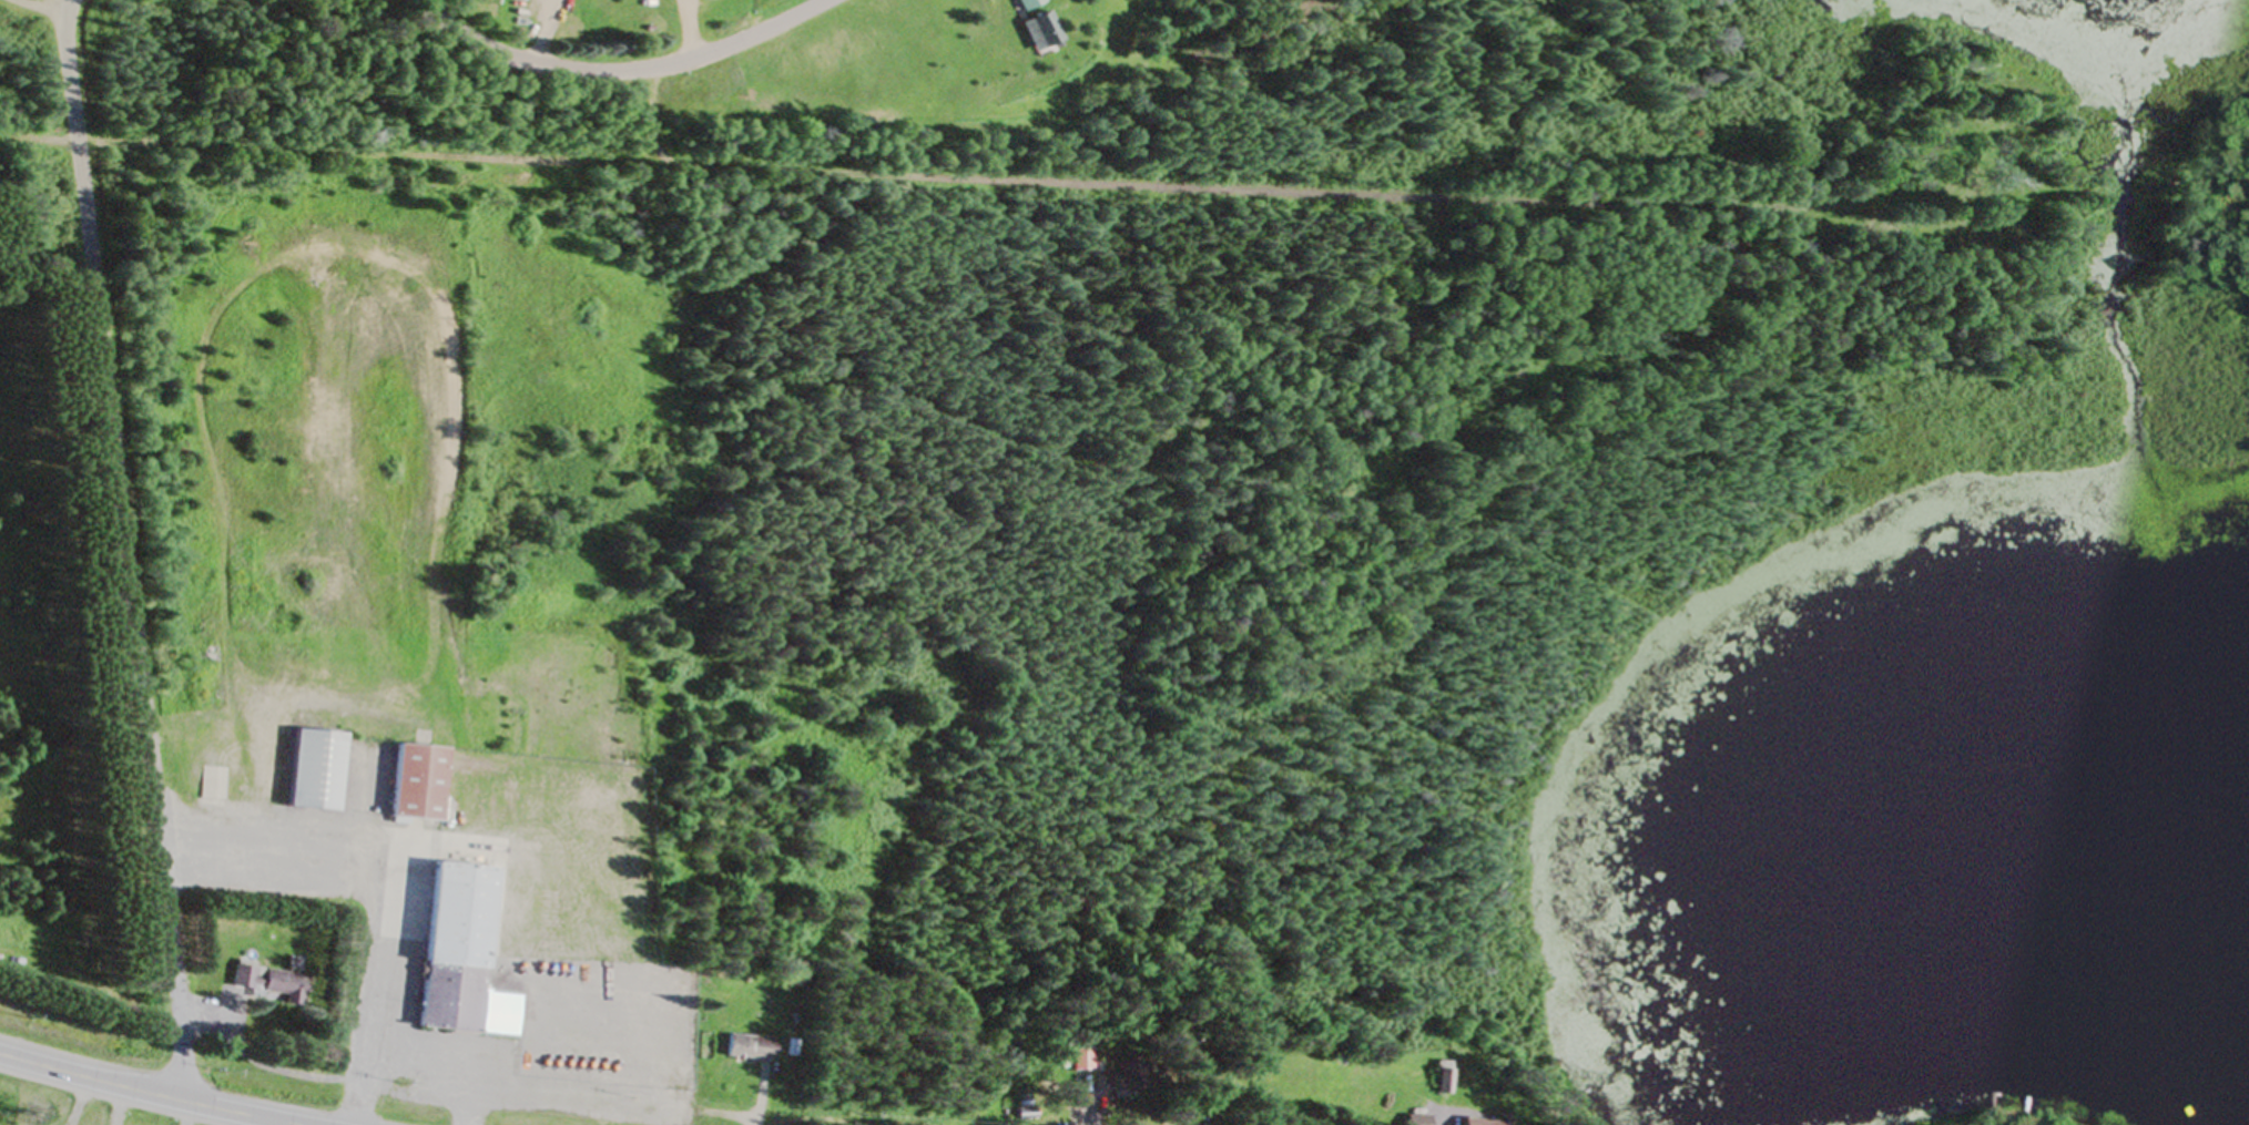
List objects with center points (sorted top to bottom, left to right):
building: (1025, 4)
road: (65, 7)
road: (43, 8)
building: (1036, 33)
road: (614, 71)
road: (950, 178)
road: (129, 559)
building: (314, 773)
building: (213, 785)
building: (416, 785)
building: (458, 957)
building: (266, 980)
building: (747, 1049)
building: (1079, 1060)
building: (1439, 1080)
road: (145, 1094)
building: (1414, 1121)
building: (1482, 1124)

